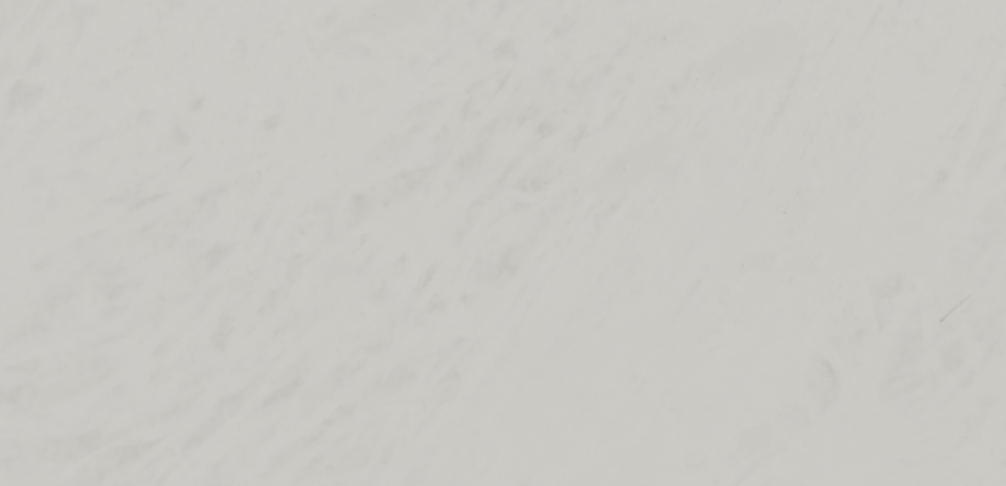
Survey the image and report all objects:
building: (771, 167)

